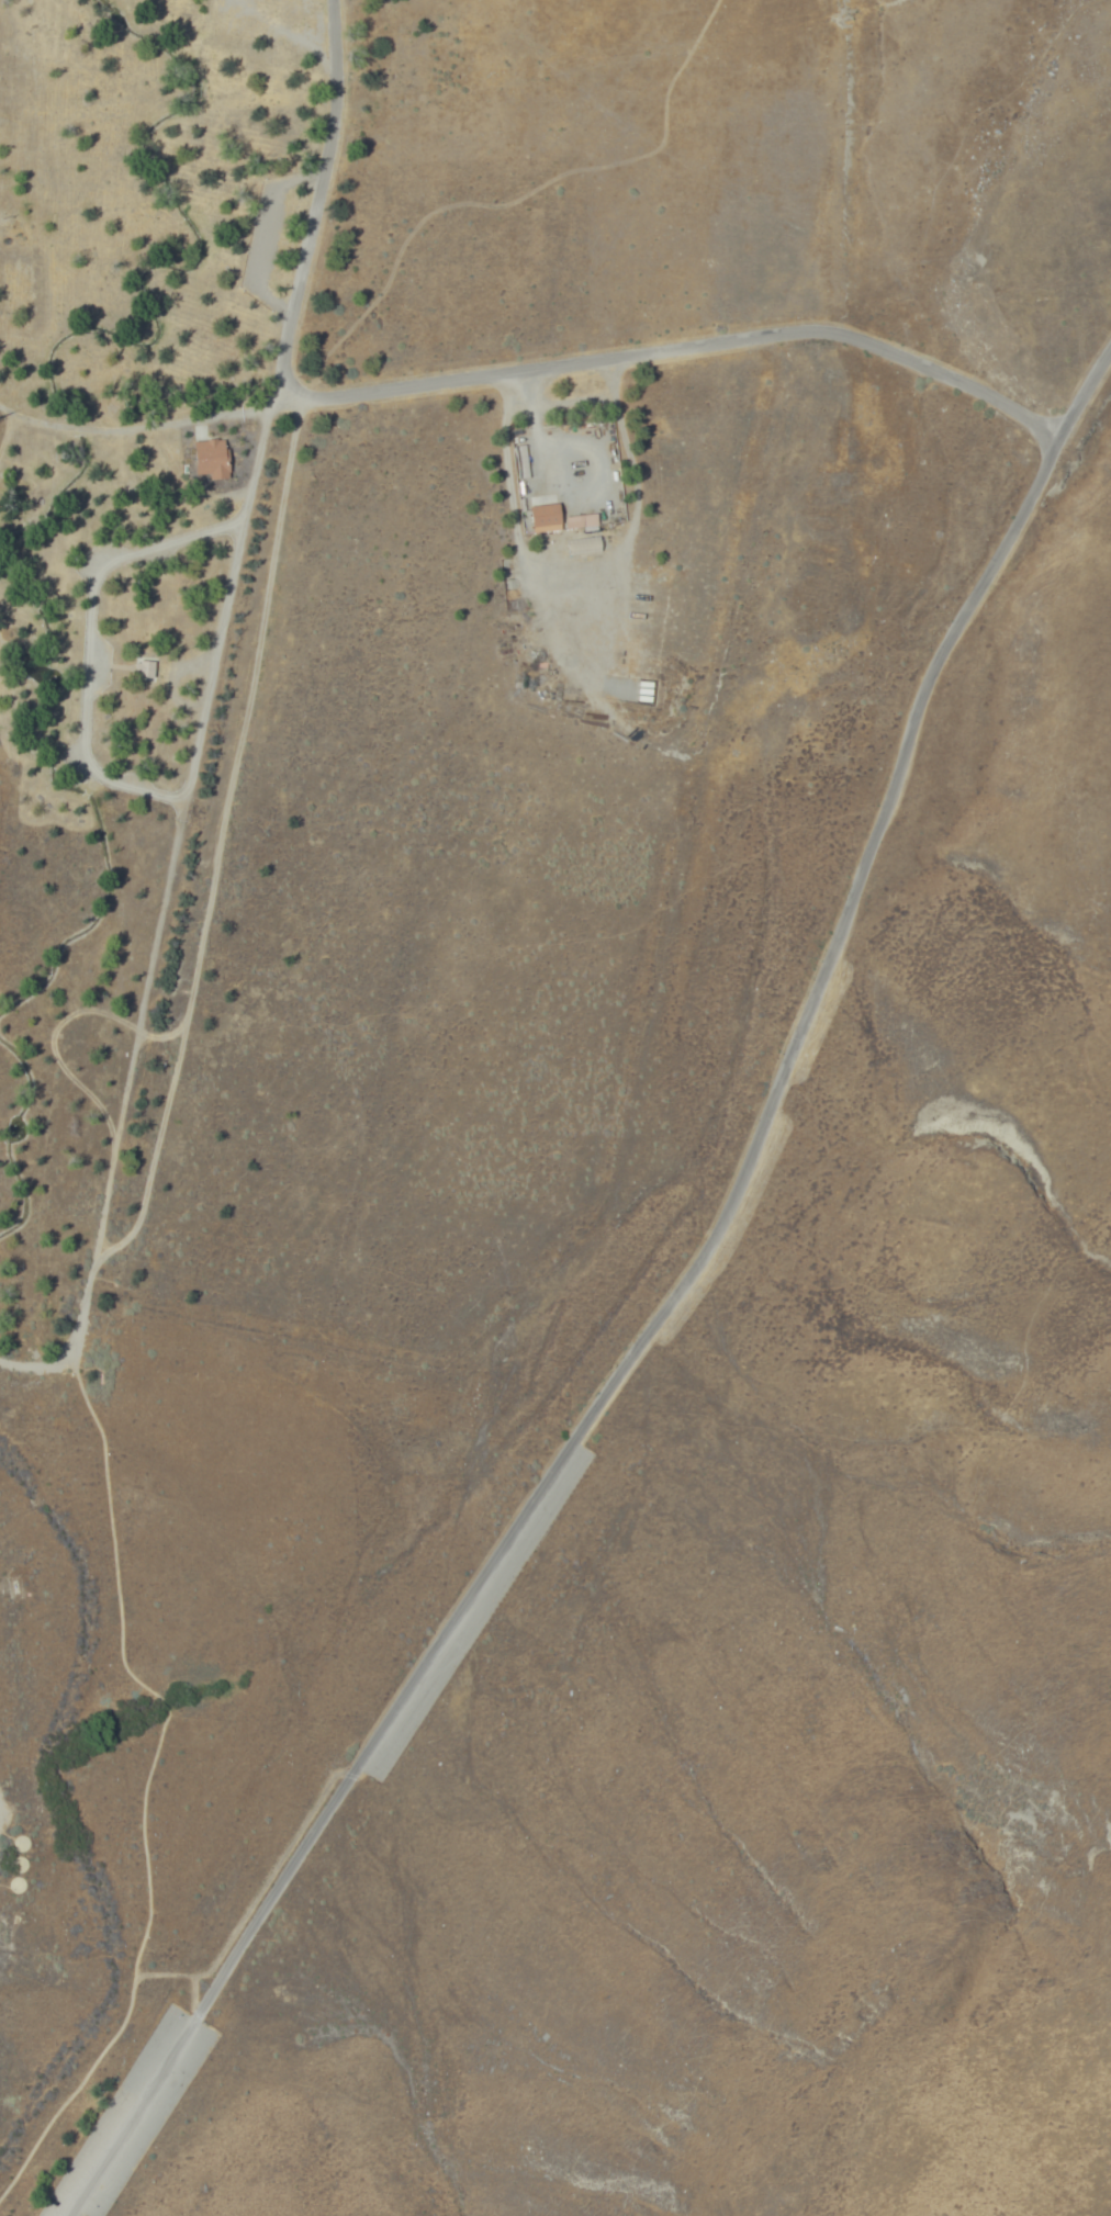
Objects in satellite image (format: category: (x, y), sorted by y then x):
road: (380, 5)
building: (53, 135)
road: (265, 236)
parking lot: (269, 237)
road: (70, 341)
road: (546, 367)
road: (4, 420)
building: (214, 459)
building: (546, 515)
building: (582, 520)
building: (585, 544)
road: (88, 646)
building: (147, 670)
road: (212, 716)
road: (98, 914)
road: (15, 1140)
road: (661, 1319)
road: (0, 1797)
parking lot: (96, 2147)

